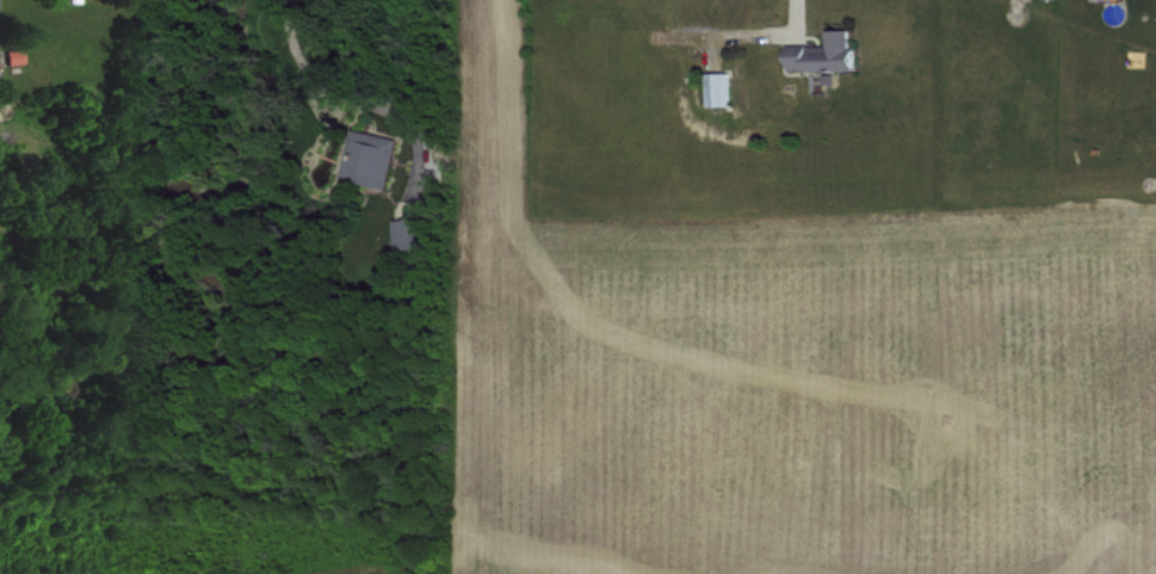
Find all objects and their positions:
road: (790, 13)
building: (818, 51)
building: (11, 54)
road: (304, 60)
building: (712, 86)
building: (364, 155)

